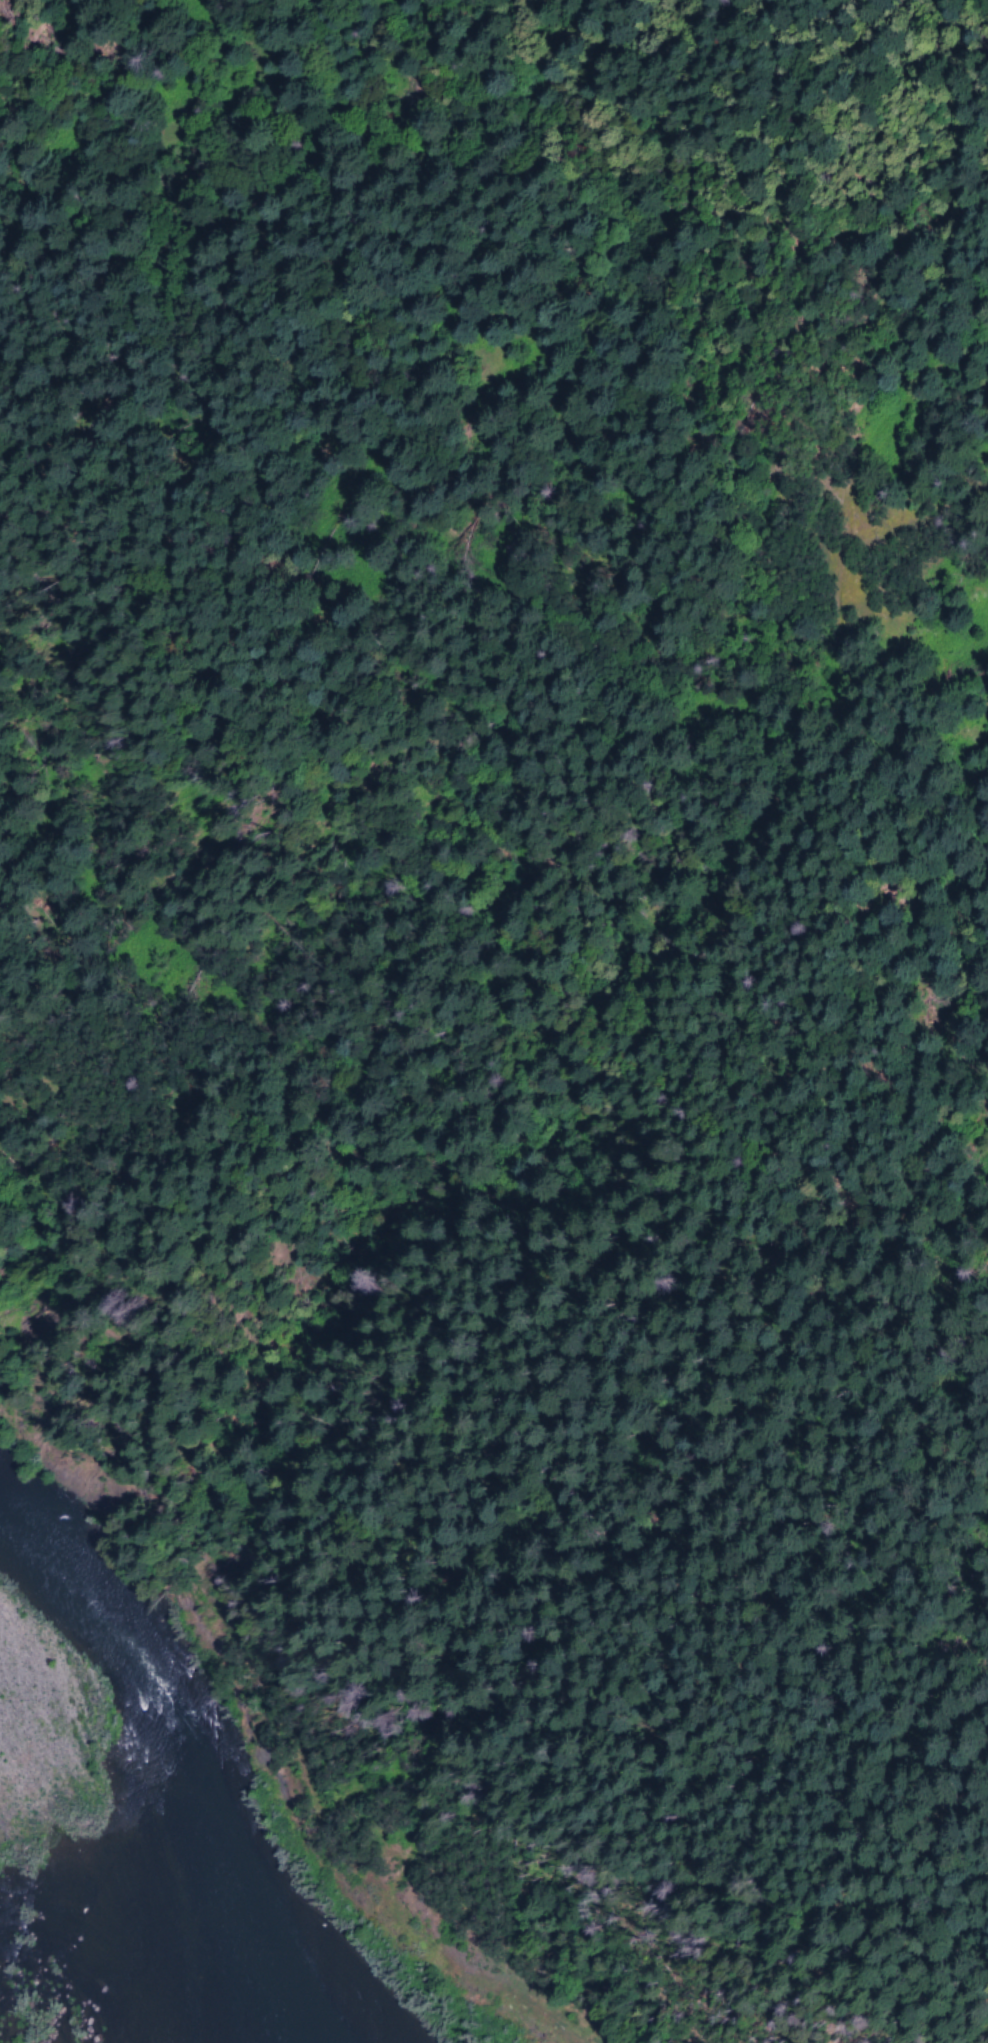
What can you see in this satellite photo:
road: (386, 1671)
river: (128, 1986)

